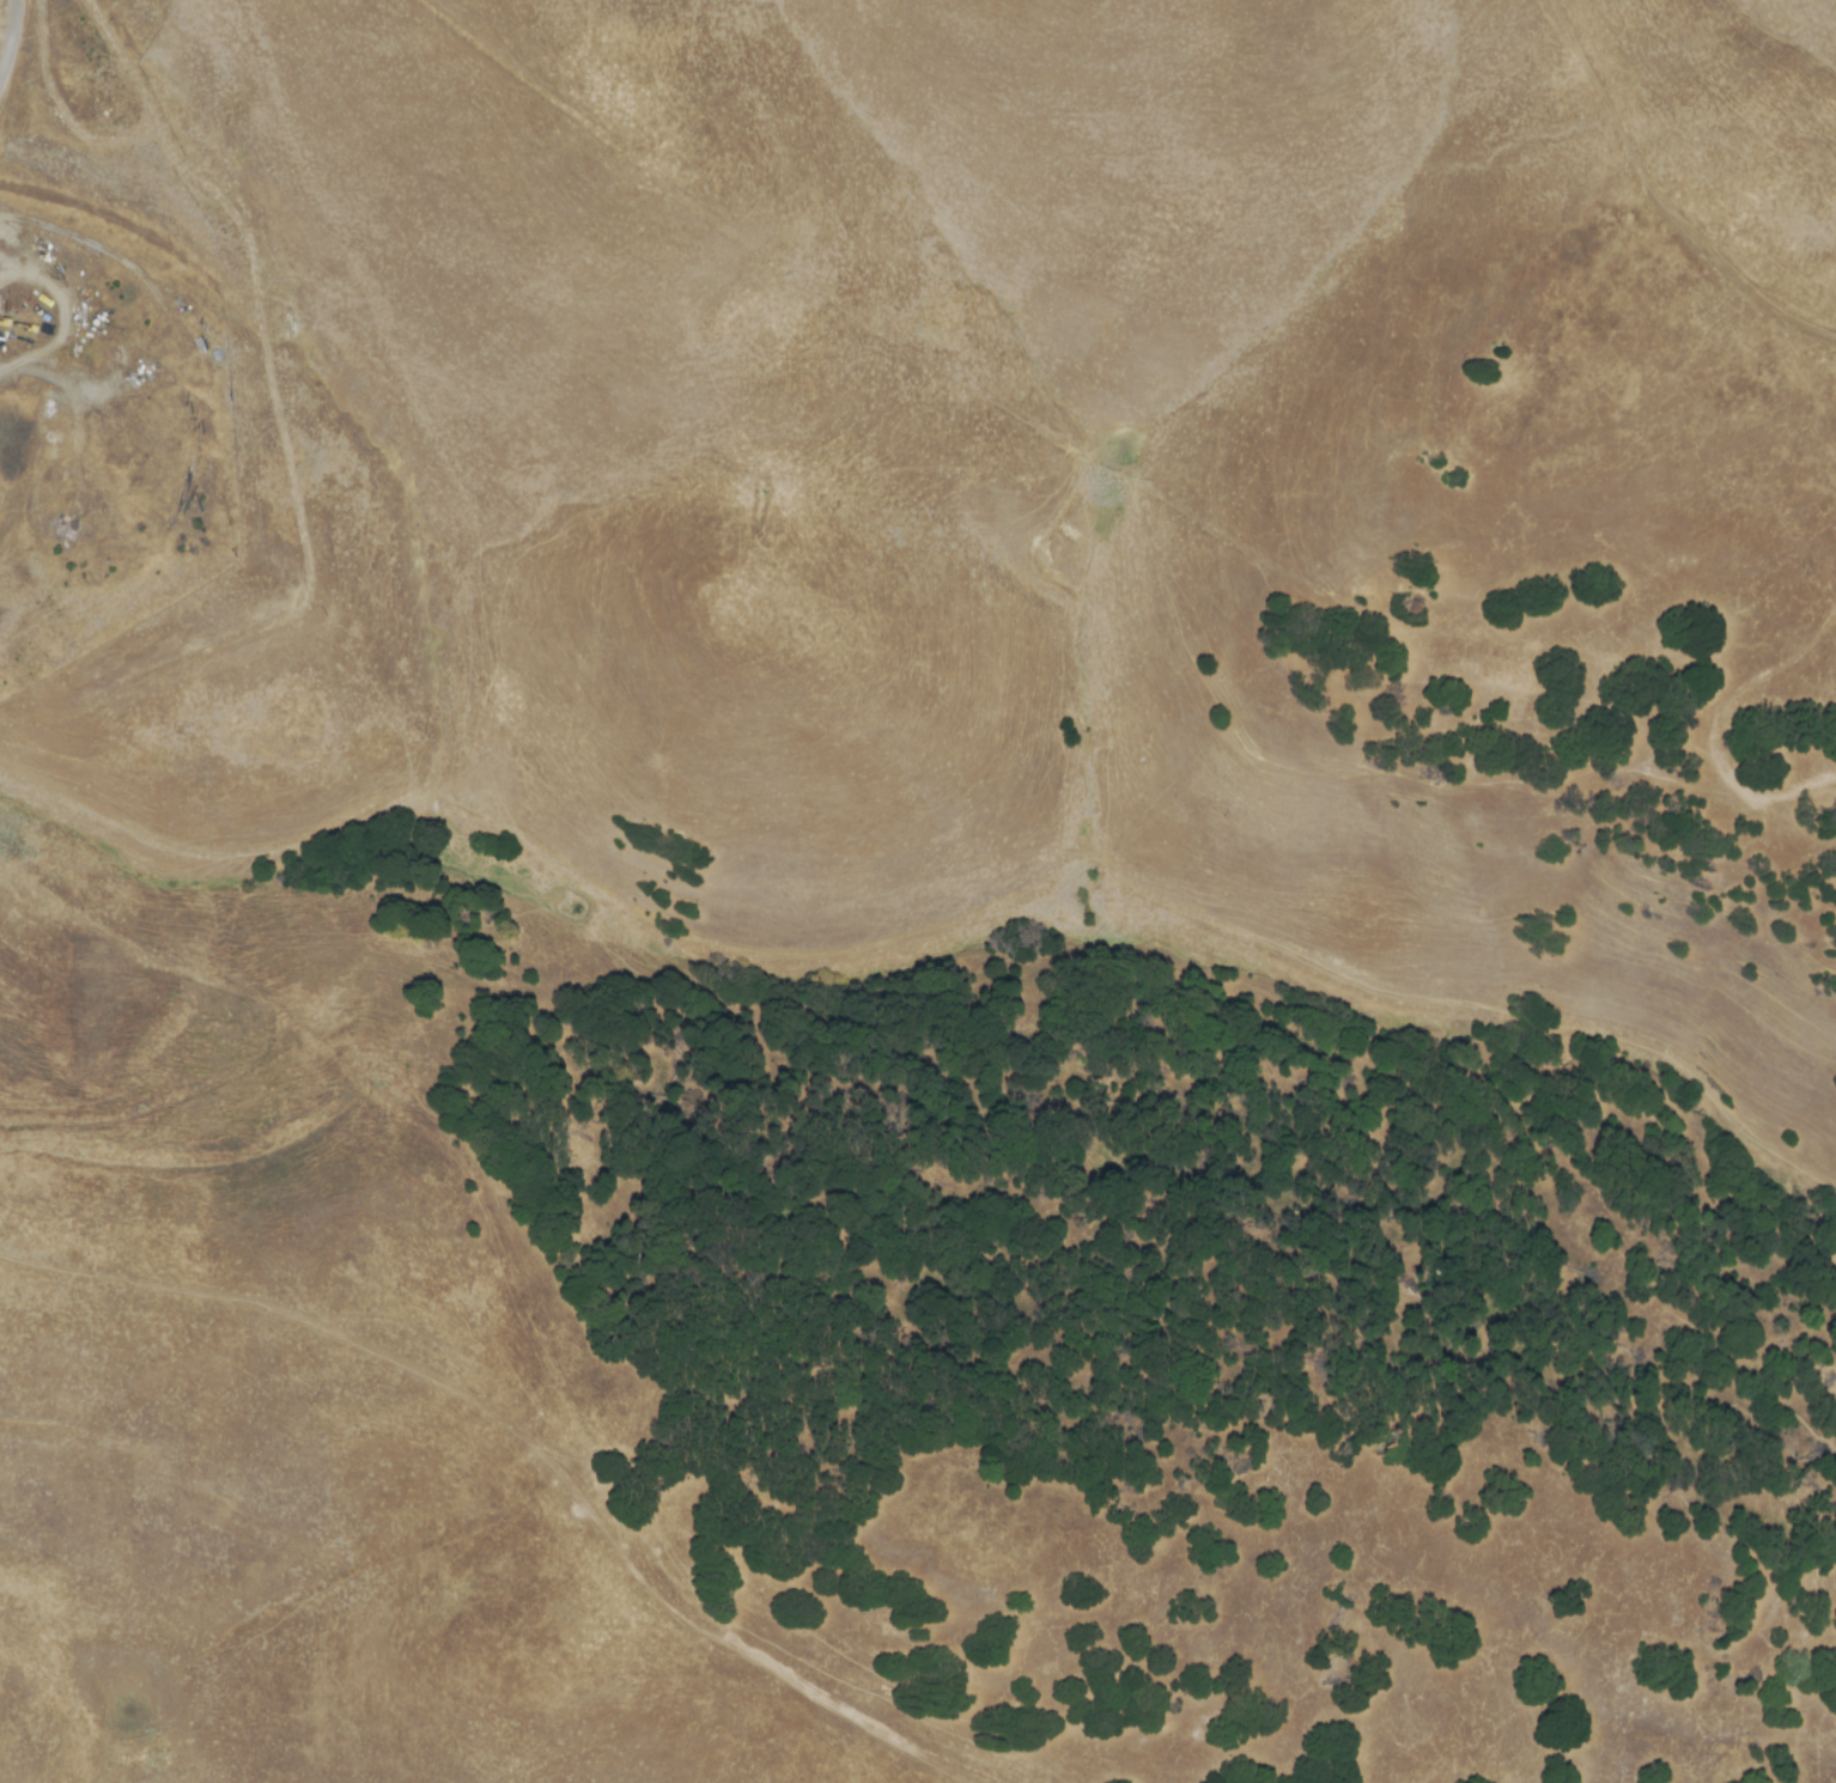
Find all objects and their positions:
road: (11, 42)

